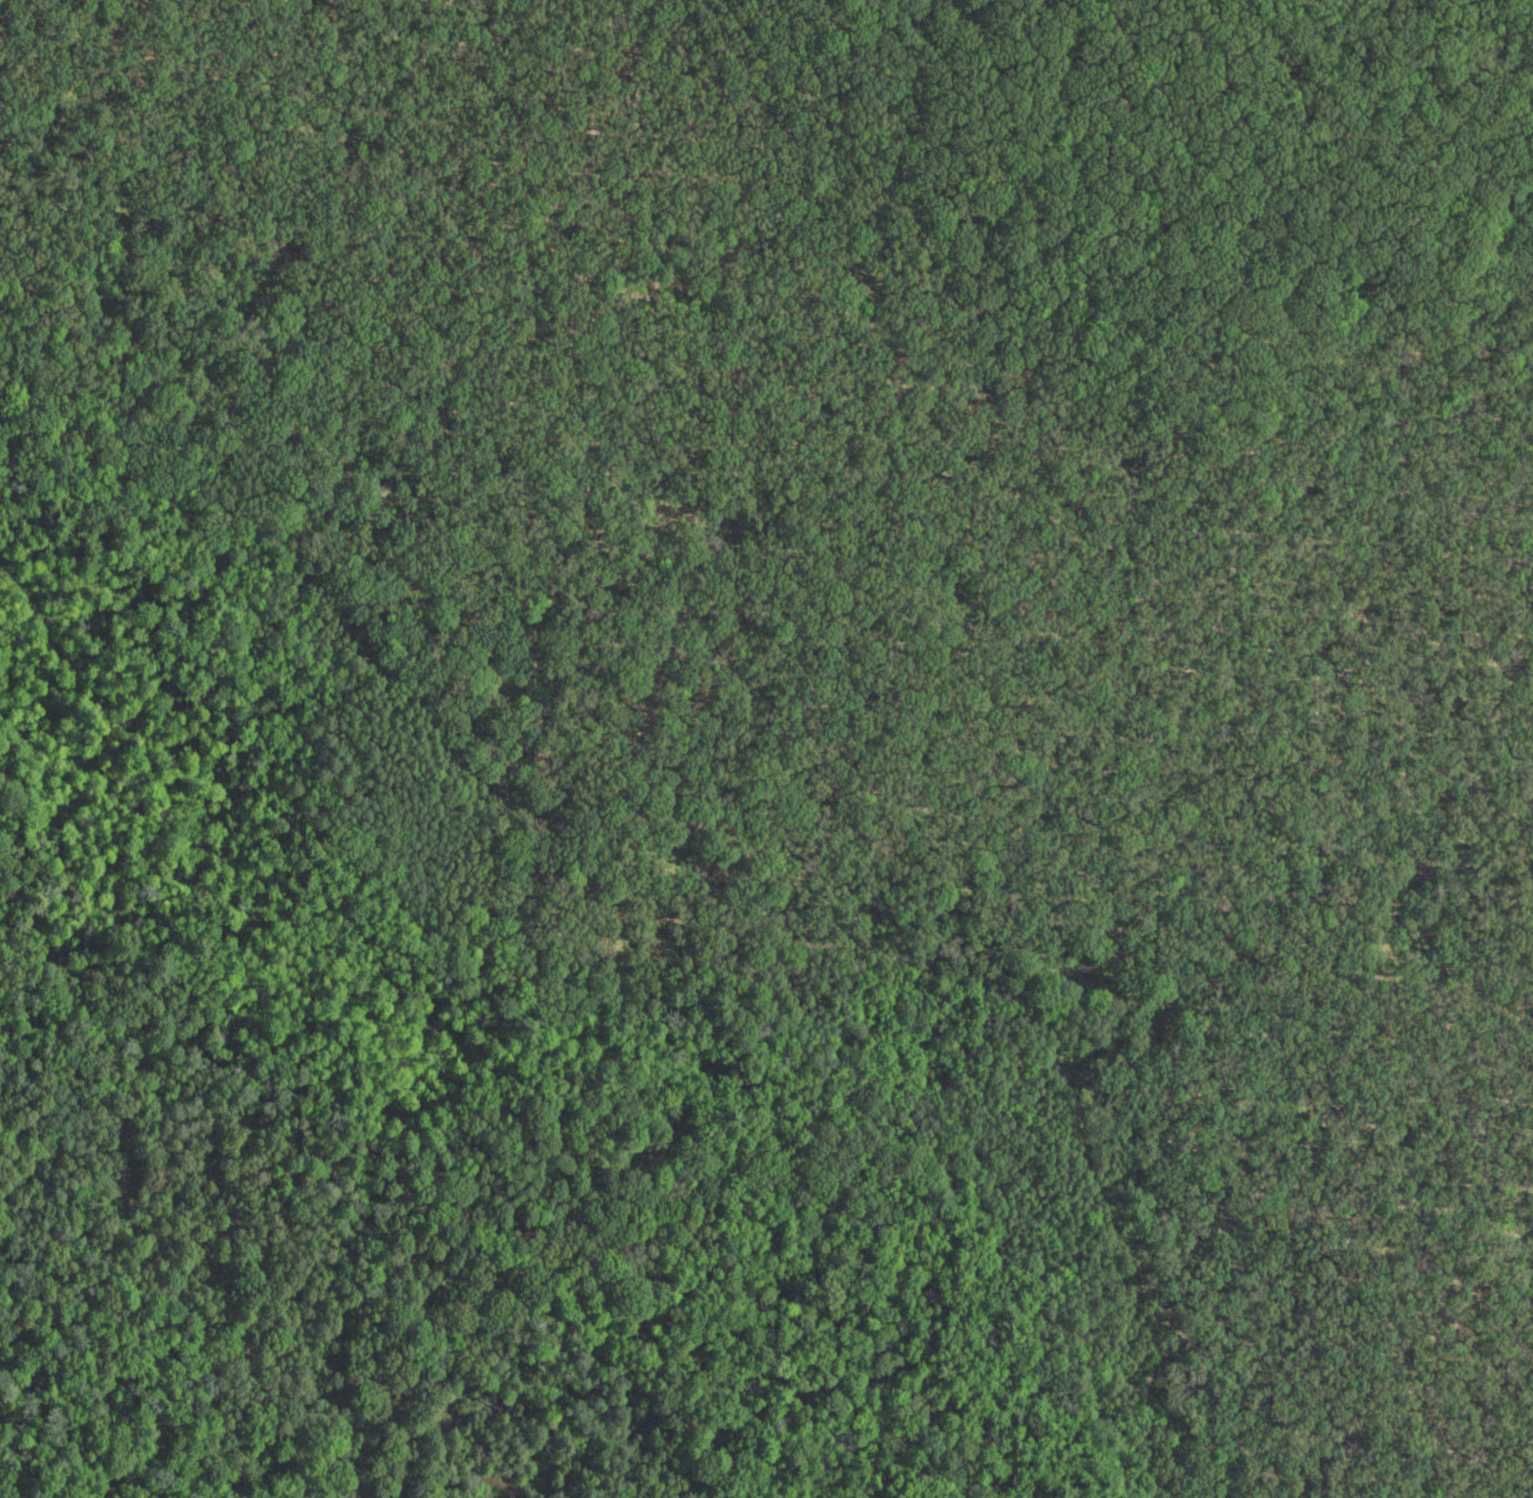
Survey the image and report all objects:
road: (1342, 693)
road: (1013, 968)
road: (1119, 1234)

